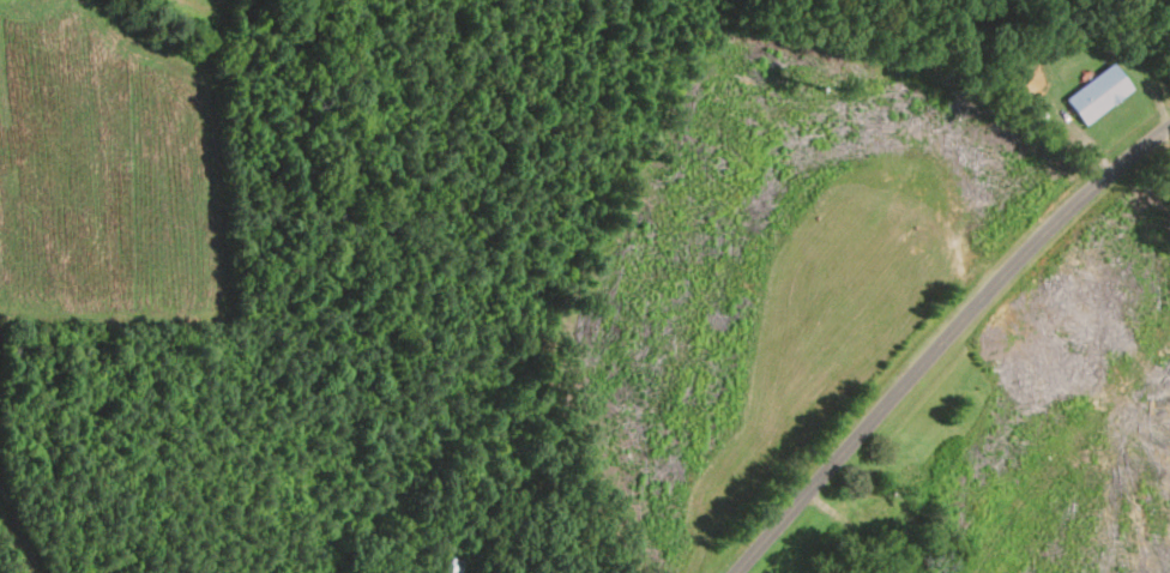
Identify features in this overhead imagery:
building: (1099, 94)
road: (945, 342)
building: (882, 501)
road: (29, 518)

